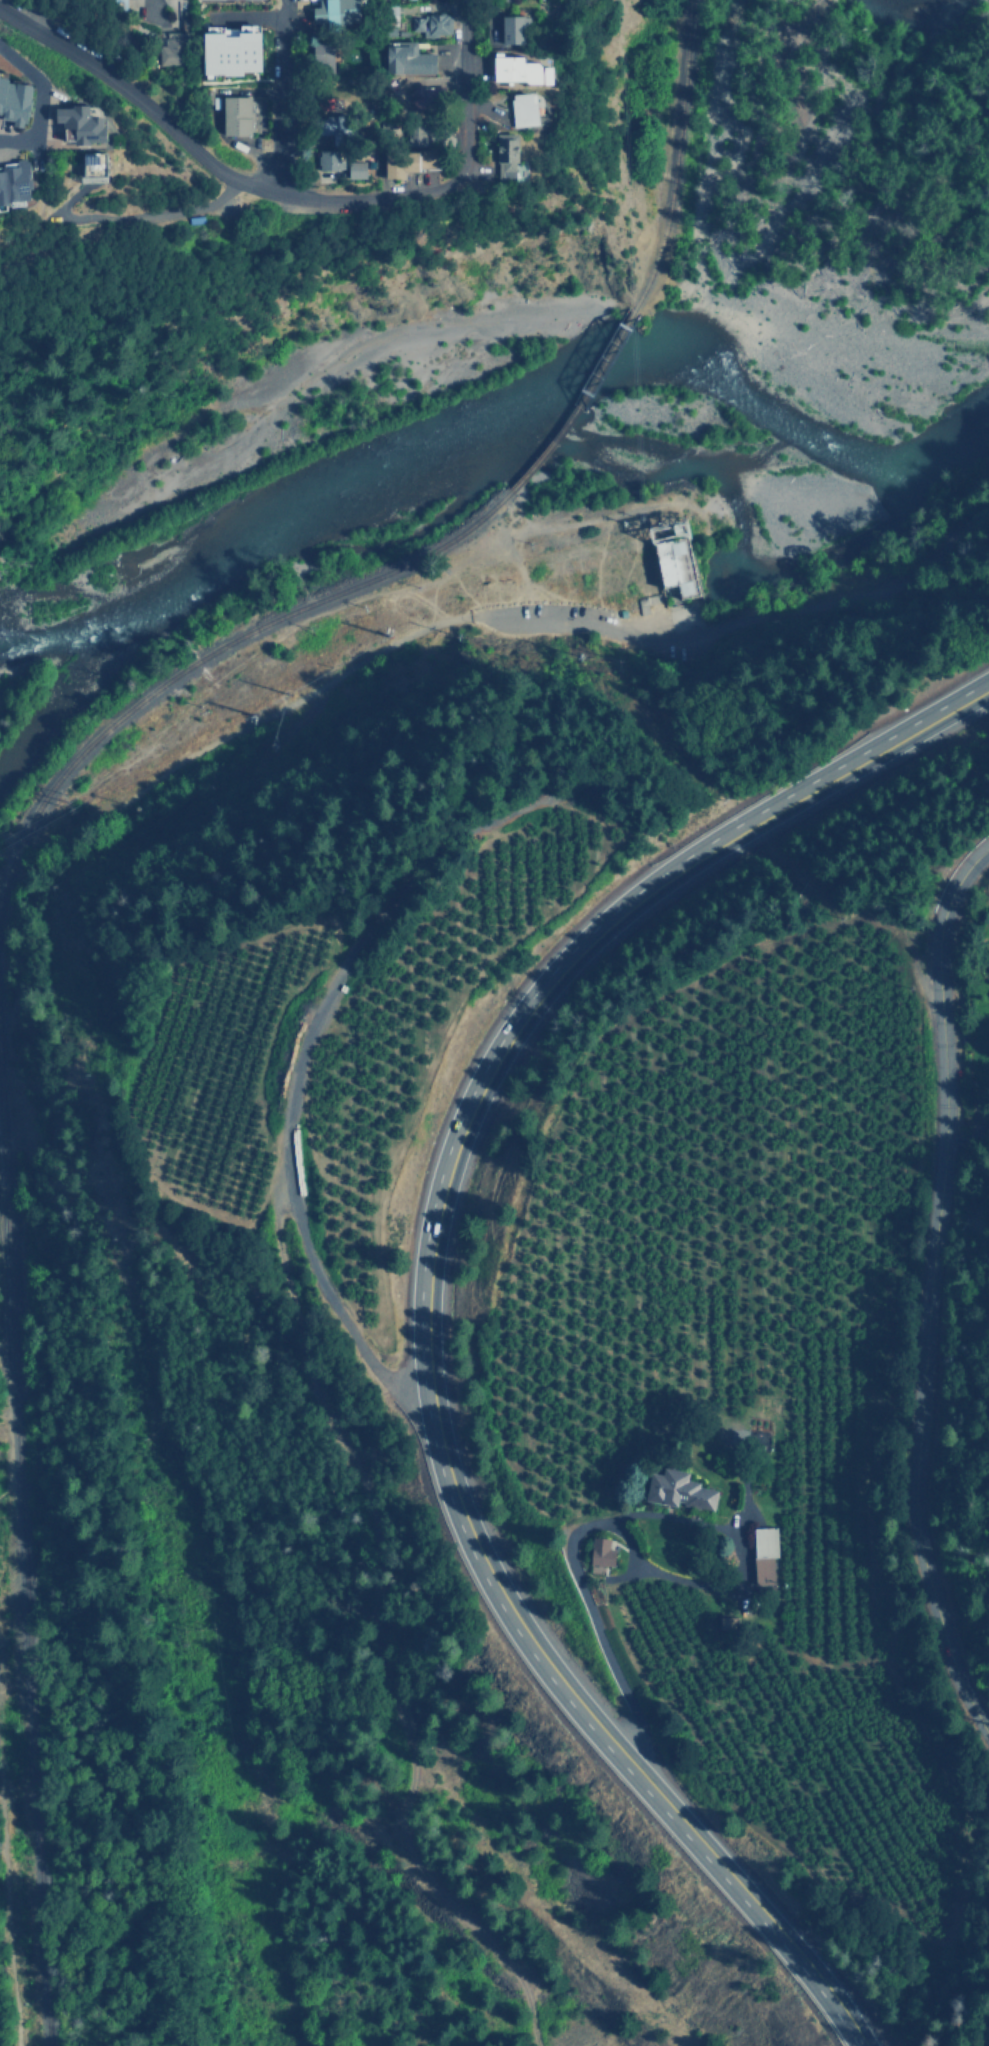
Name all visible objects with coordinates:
road: (125, 3)
building: (331, 13)
building: (431, 24)
building: (512, 28)
building: (171, 48)
building: (226, 50)
building: (322, 57)
building: (517, 70)
building: (17, 99)
road: (286, 99)
road: (468, 101)
building: (523, 109)
road: (37, 111)
building: (234, 116)
building: (86, 123)
building: (412, 135)
road: (17, 141)
railway: (668, 152)
building: (504, 155)
road: (202, 156)
building: (326, 160)
building: (401, 162)
building: (101, 163)
building: (353, 169)
building: (16, 181)
road: (175, 212)
road: (52, 246)
railway: (580, 404)
river: (510, 422)
road: (570, 524)
building: (677, 571)
parking lot: (537, 610)
road: (743, 620)
railway: (208, 646)
road: (233, 730)
road: (293, 1192)
road: (926, 1289)
road: (424, 1304)
road: (2, 1426)
building: (676, 1489)
road: (630, 1516)
building: (597, 1554)
building: (763, 1560)
railway: (28, 1596)
road: (10, 1904)

